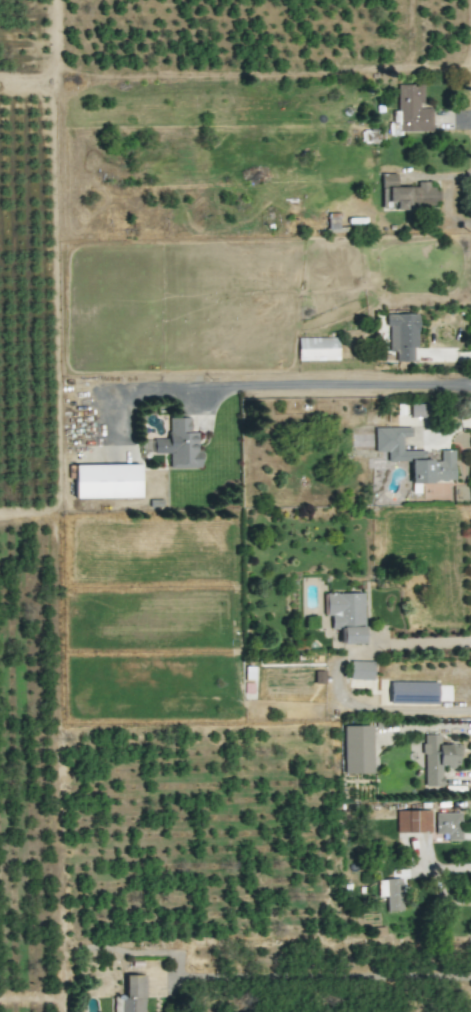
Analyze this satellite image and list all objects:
building: (412, 109)
building: (405, 194)
building: (402, 335)
building: (317, 349)
road: (292, 384)
building: (418, 410)
crop: (23, 414)
building: (179, 444)
building: (414, 456)
building: (106, 481)
building: (346, 615)
building: (360, 670)
road: (336, 678)
building: (412, 692)
building: (356, 749)
building: (437, 759)
building: (412, 821)
building: (448, 825)
building: (390, 893)
road: (326, 978)
building: (131, 995)

